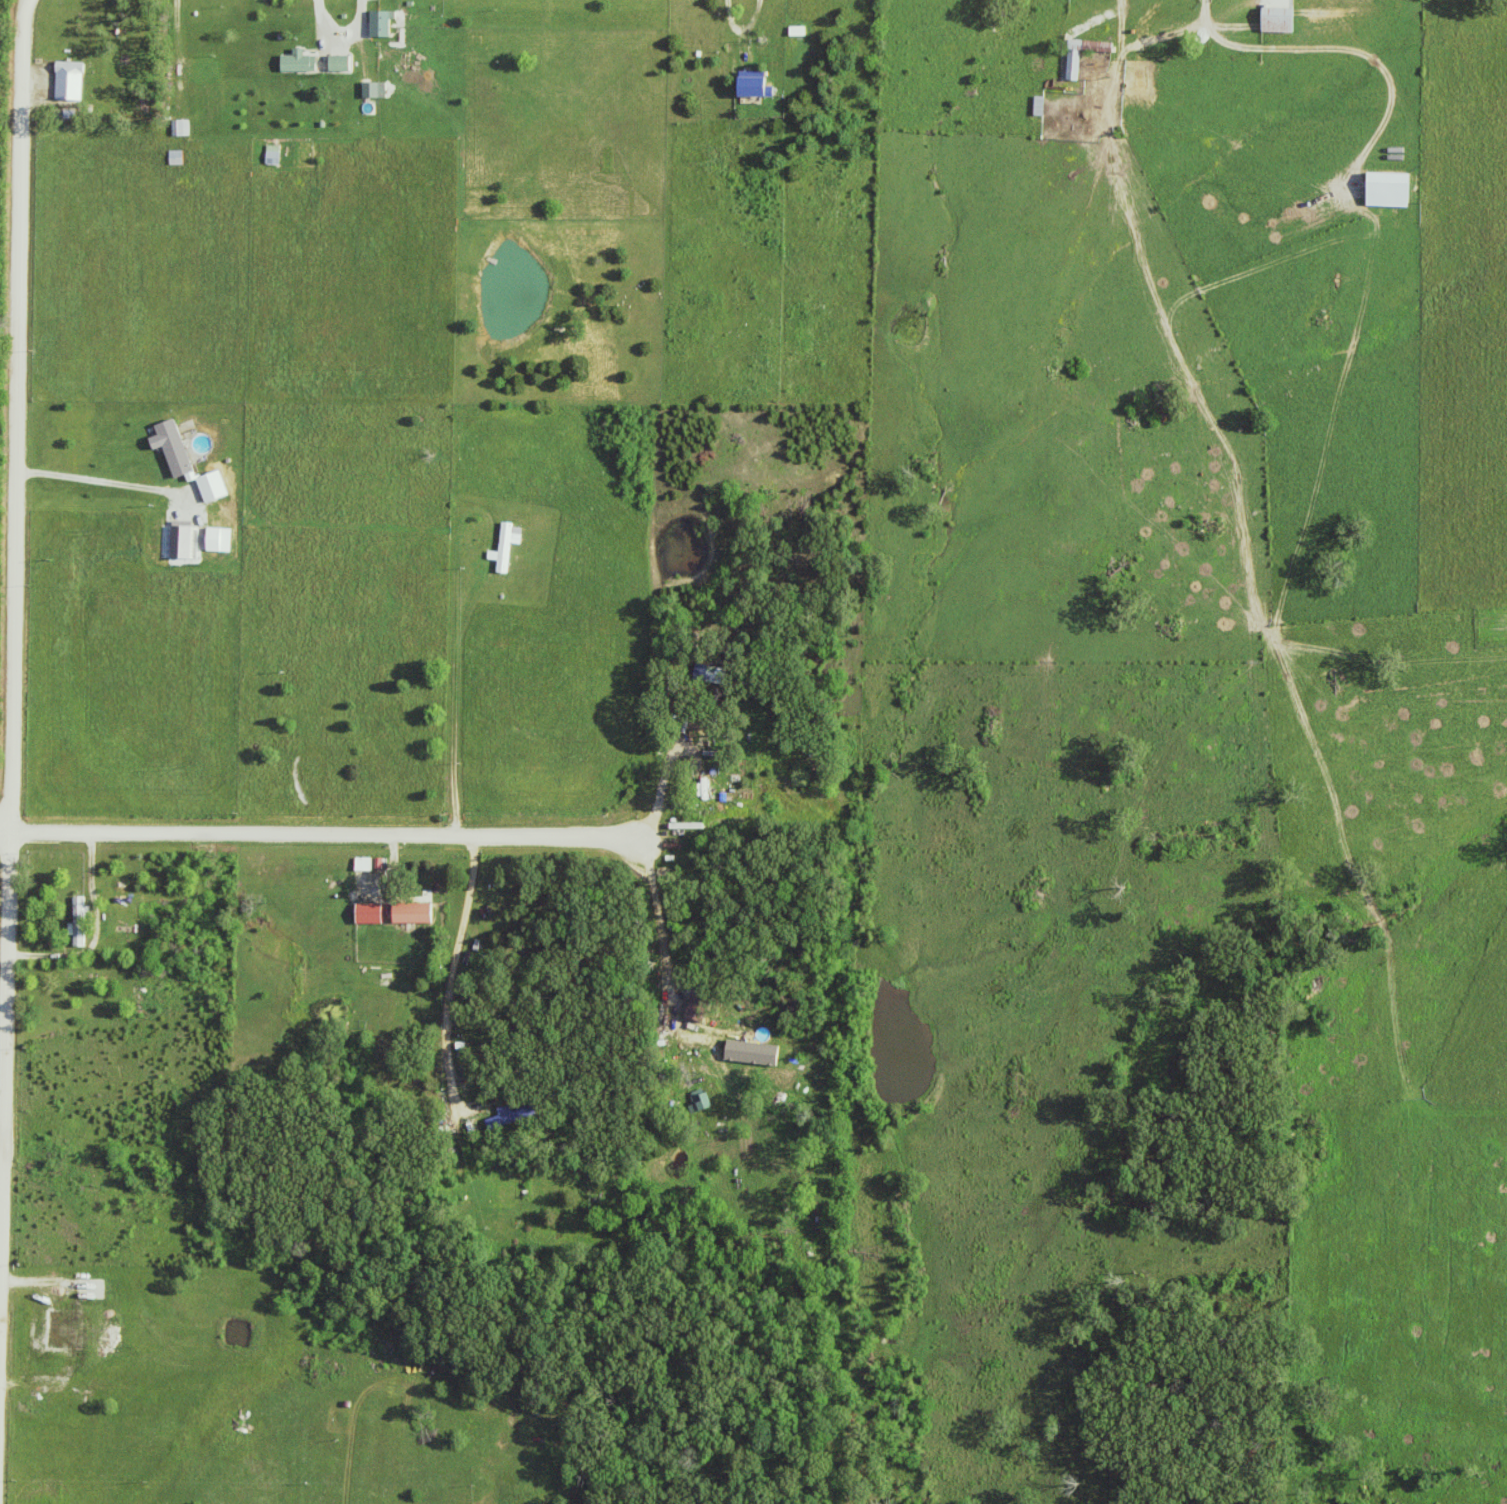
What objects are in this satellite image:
road: (322, 10)
road: (754, 13)
road: (551, 21)
building: (1278, 21)
building: (381, 23)
road: (179, 51)
building: (1075, 58)
building: (298, 62)
building: (339, 64)
building: (69, 82)
building: (754, 85)
building: (374, 91)
building: (181, 129)
road: (1180, 132)
building: (273, 156)
building: (176, 158)
building: (1389, 190)
building: (172, 448)
road: (101, 483)
building: (212, 487)
building: (218, 541)
building: (505, 547)
road: (14, 749)
road: (303, 750)
road: (310, 818)
road: (320, 833)
road: (392, 862)
building: (362, 865)
building: (411, 914)
building: (368, 915)
building: (77, 923)
road: (100, 928)
road: (664, 963)
road: (450, 974)
building: (752, 1052)
building: (700, 1101)
building: (500, 1120)

